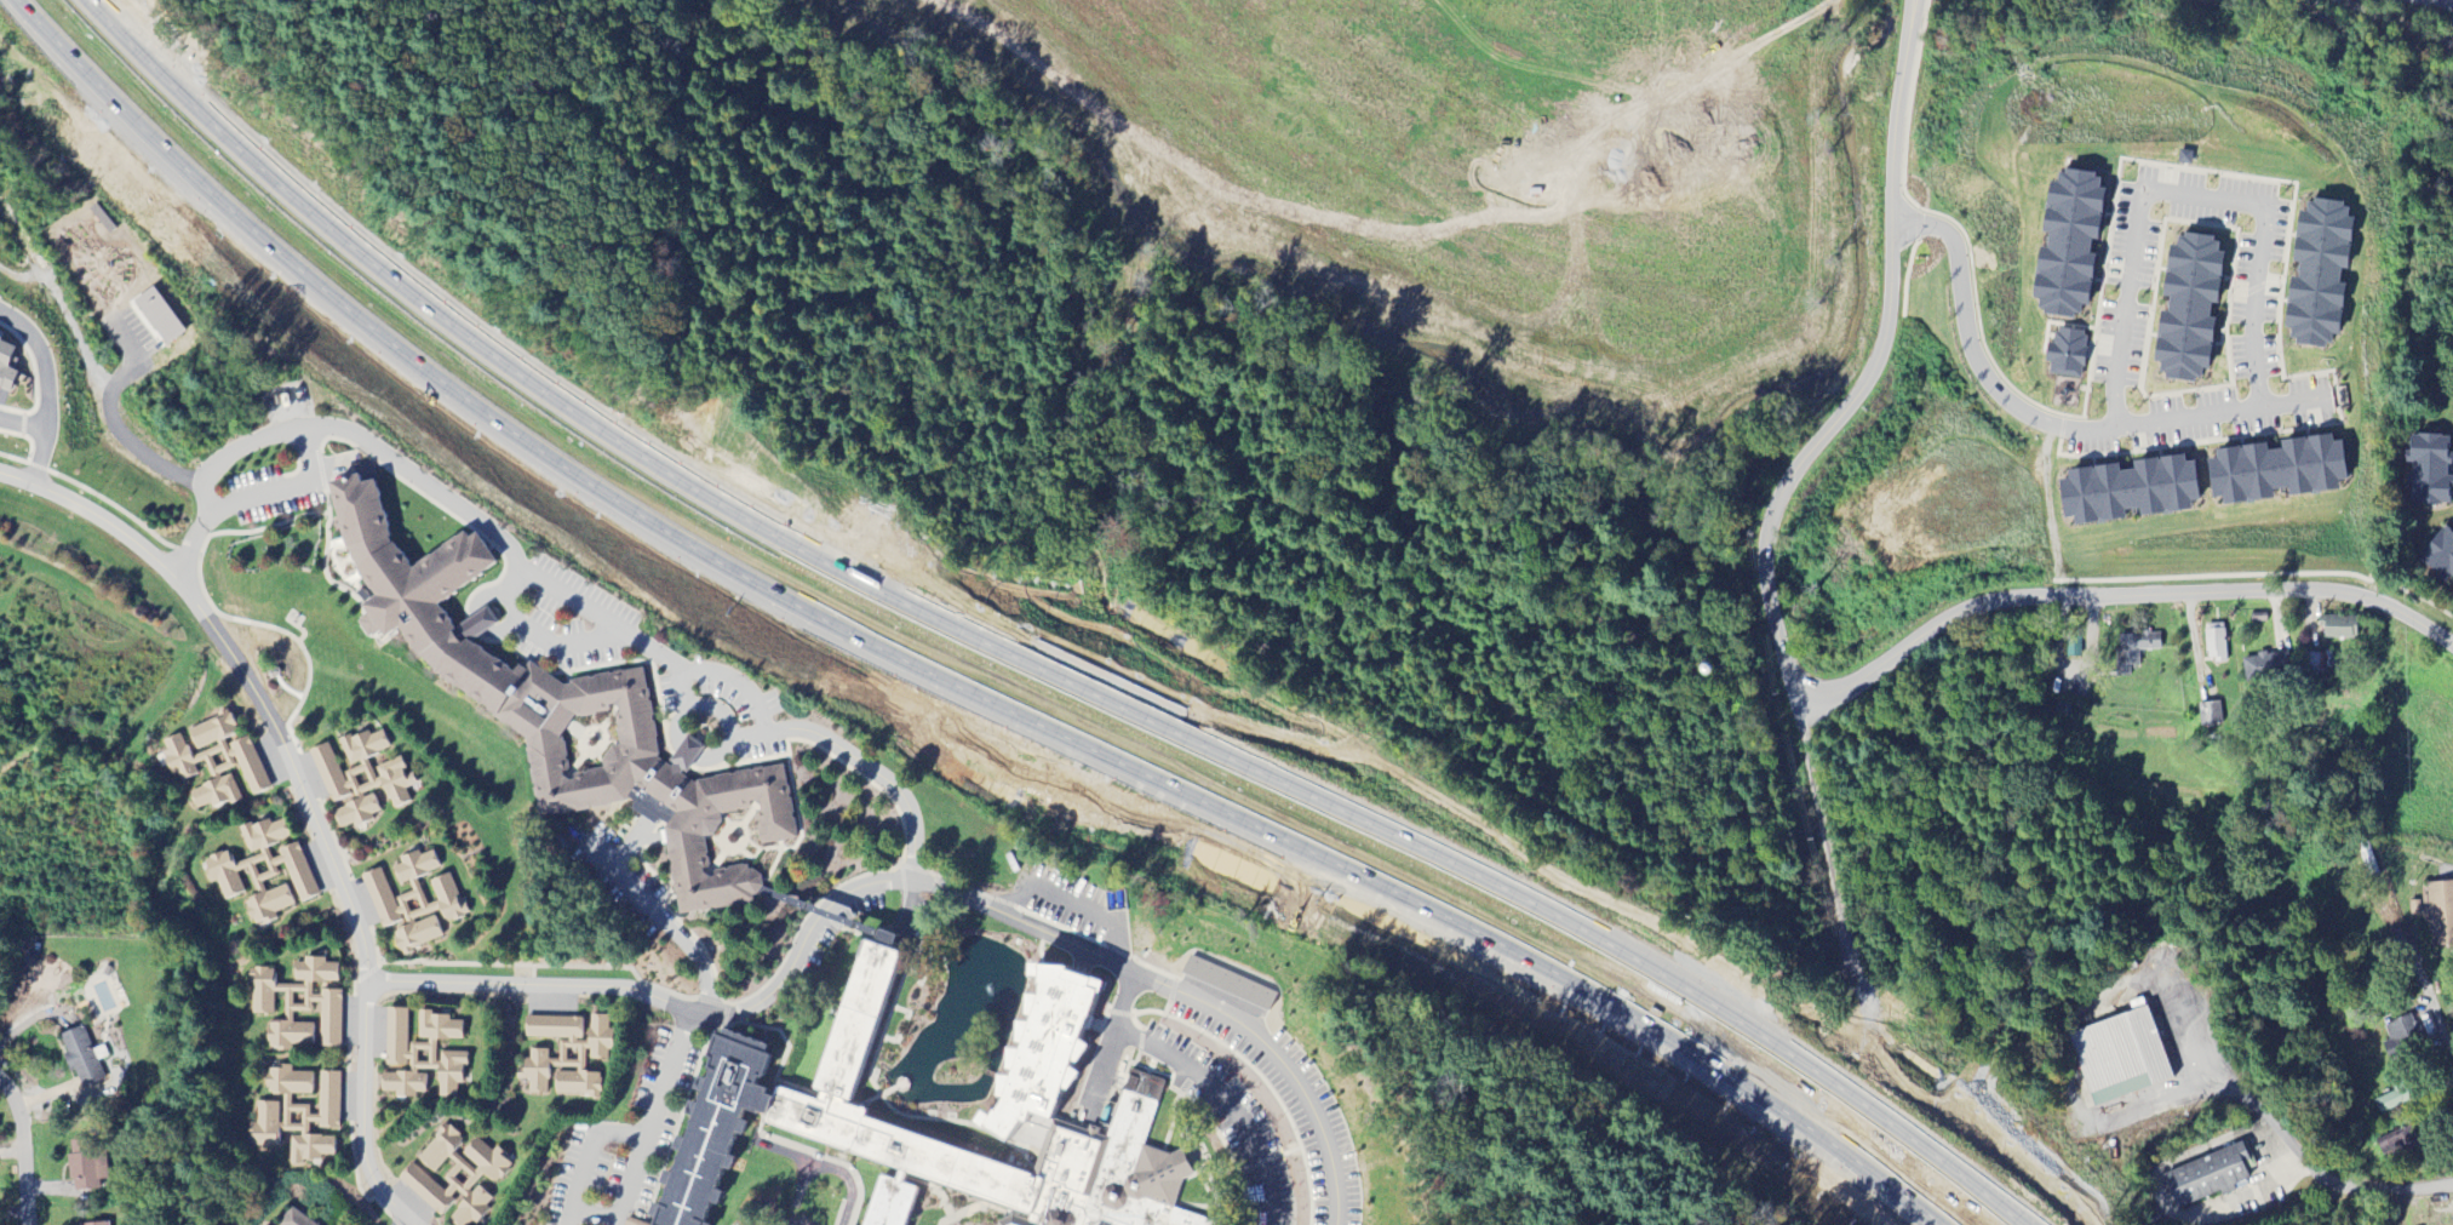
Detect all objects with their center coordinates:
road: (2183, 195)
building: (2069, 245)
building: (2320, 274)
building: (2188, 308)
building: (157, 316)
building: (2067, 354)
building: (6, 367)
road: (47, 389)
road: (2041, 422)
road: (22, 425)
road: (115, 428)
building: (2276, 470)
building: (2429, 470)
building: (2127, 491)
road: (283, 492)
road: (1778, 499)
building: (2441, 555)
road: (548, 582)
road: (2114, 596)
building: (2340, 629)
road: (537, 631)
building: (2214, 647)
building: (2133, 651)
road: (1030, 653)
building: (2265, 668)
road: (929, 670)
road: (683, 704)
building: (564, 705)
building: (2210, 715)
road: (732, 740)
road: (690, 751)
building: (216, 762)
building: (360, 778)
road: (304, 792)
building: (263, 871)
road: (933, 885)
building: (414, 903)
road: (831, 911)
building: (2437, 912)
road: (671, 928)
road: (2401, 941)
road: (541, 985)
building: (298, 1004)
building: (2401, 1032)
building: (564, 1054)
building: (420, 1055)
building: (2120, 1057)
building: (81, 1058)
road: (1280, 1067)
building: (2391, 1100)
building: (297, 1115)
building: (925, 1134)
road: (27, 1147)
road: (580, 1150)
road: (2303, 1161)
building: (87, 1173)
building: (455, 1175)
building: (2208, 1177)
building: (799, 1179)
building: (955, 1204)
road: (590, 1213)
building: (293, 1219)
building: (98, 1224)
building: (260, 1224)

